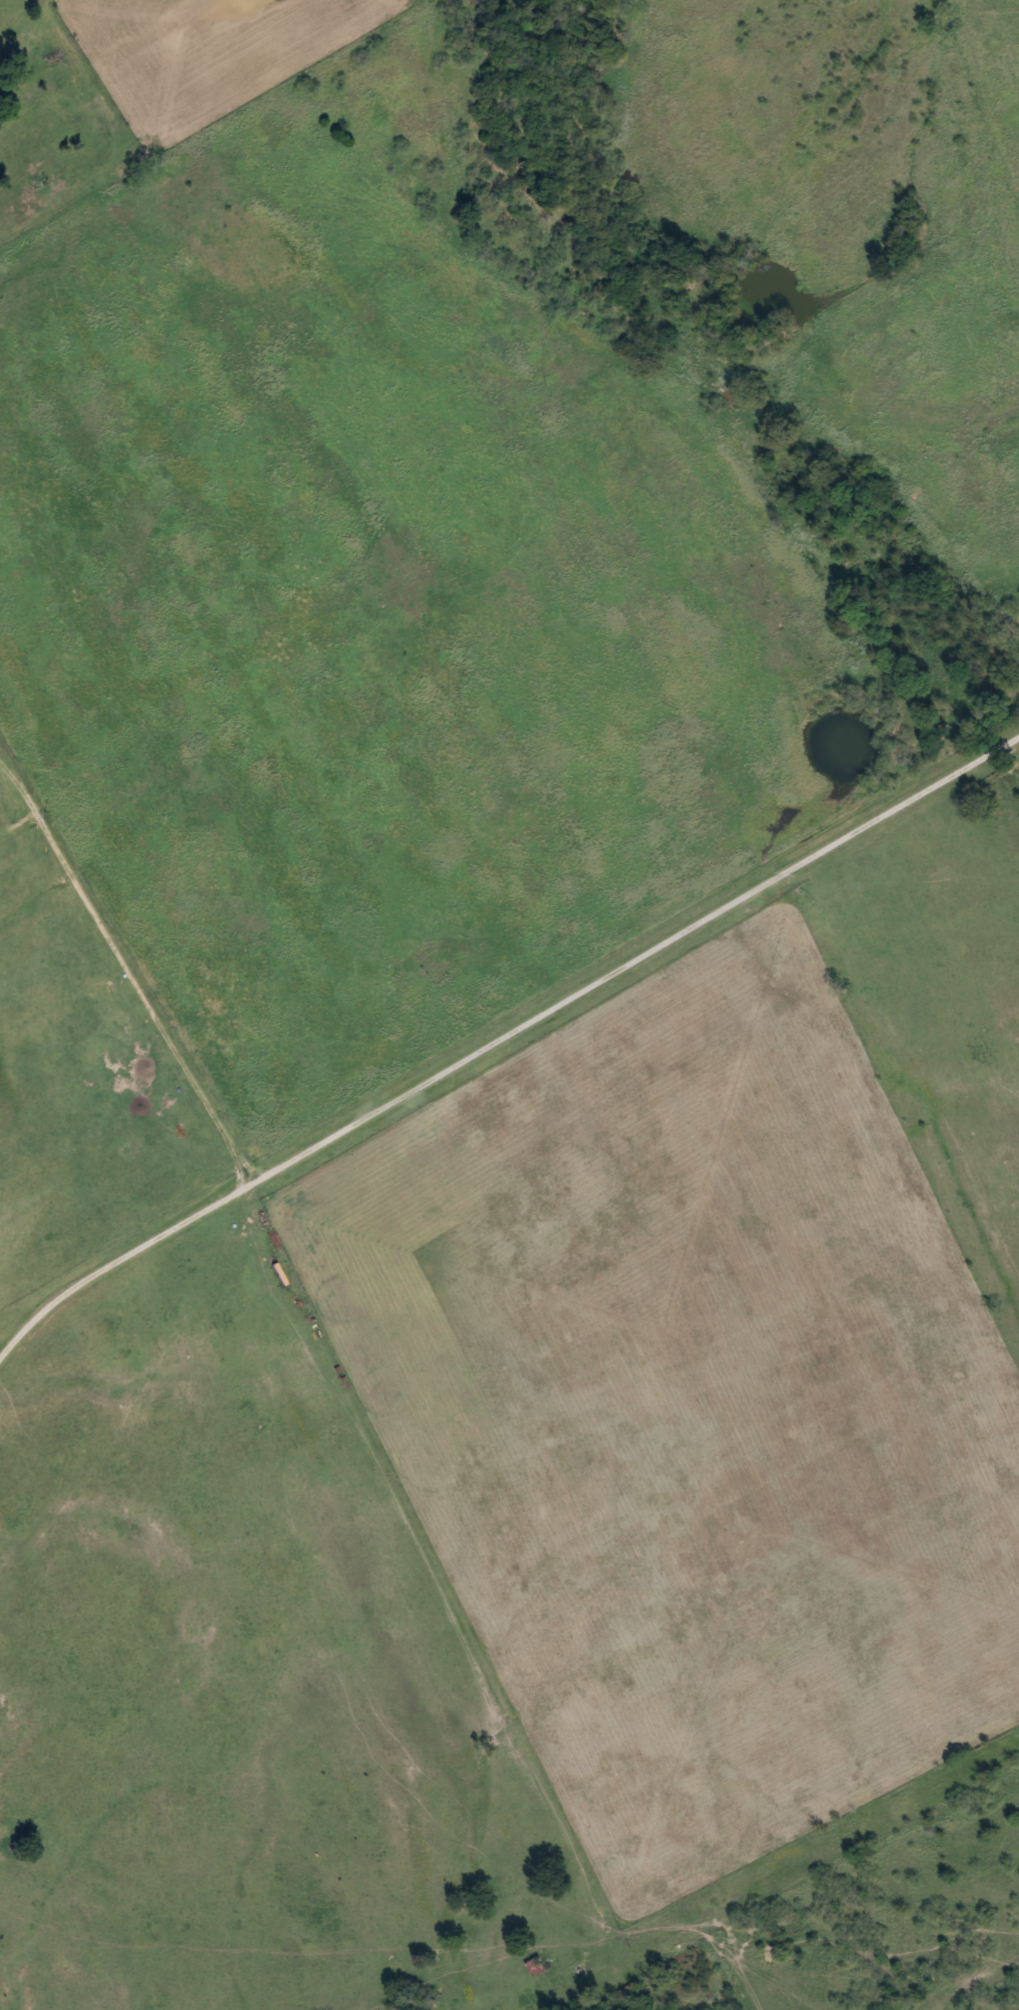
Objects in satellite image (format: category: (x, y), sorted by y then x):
road: (501, 1039)
building: (534, 1965)

